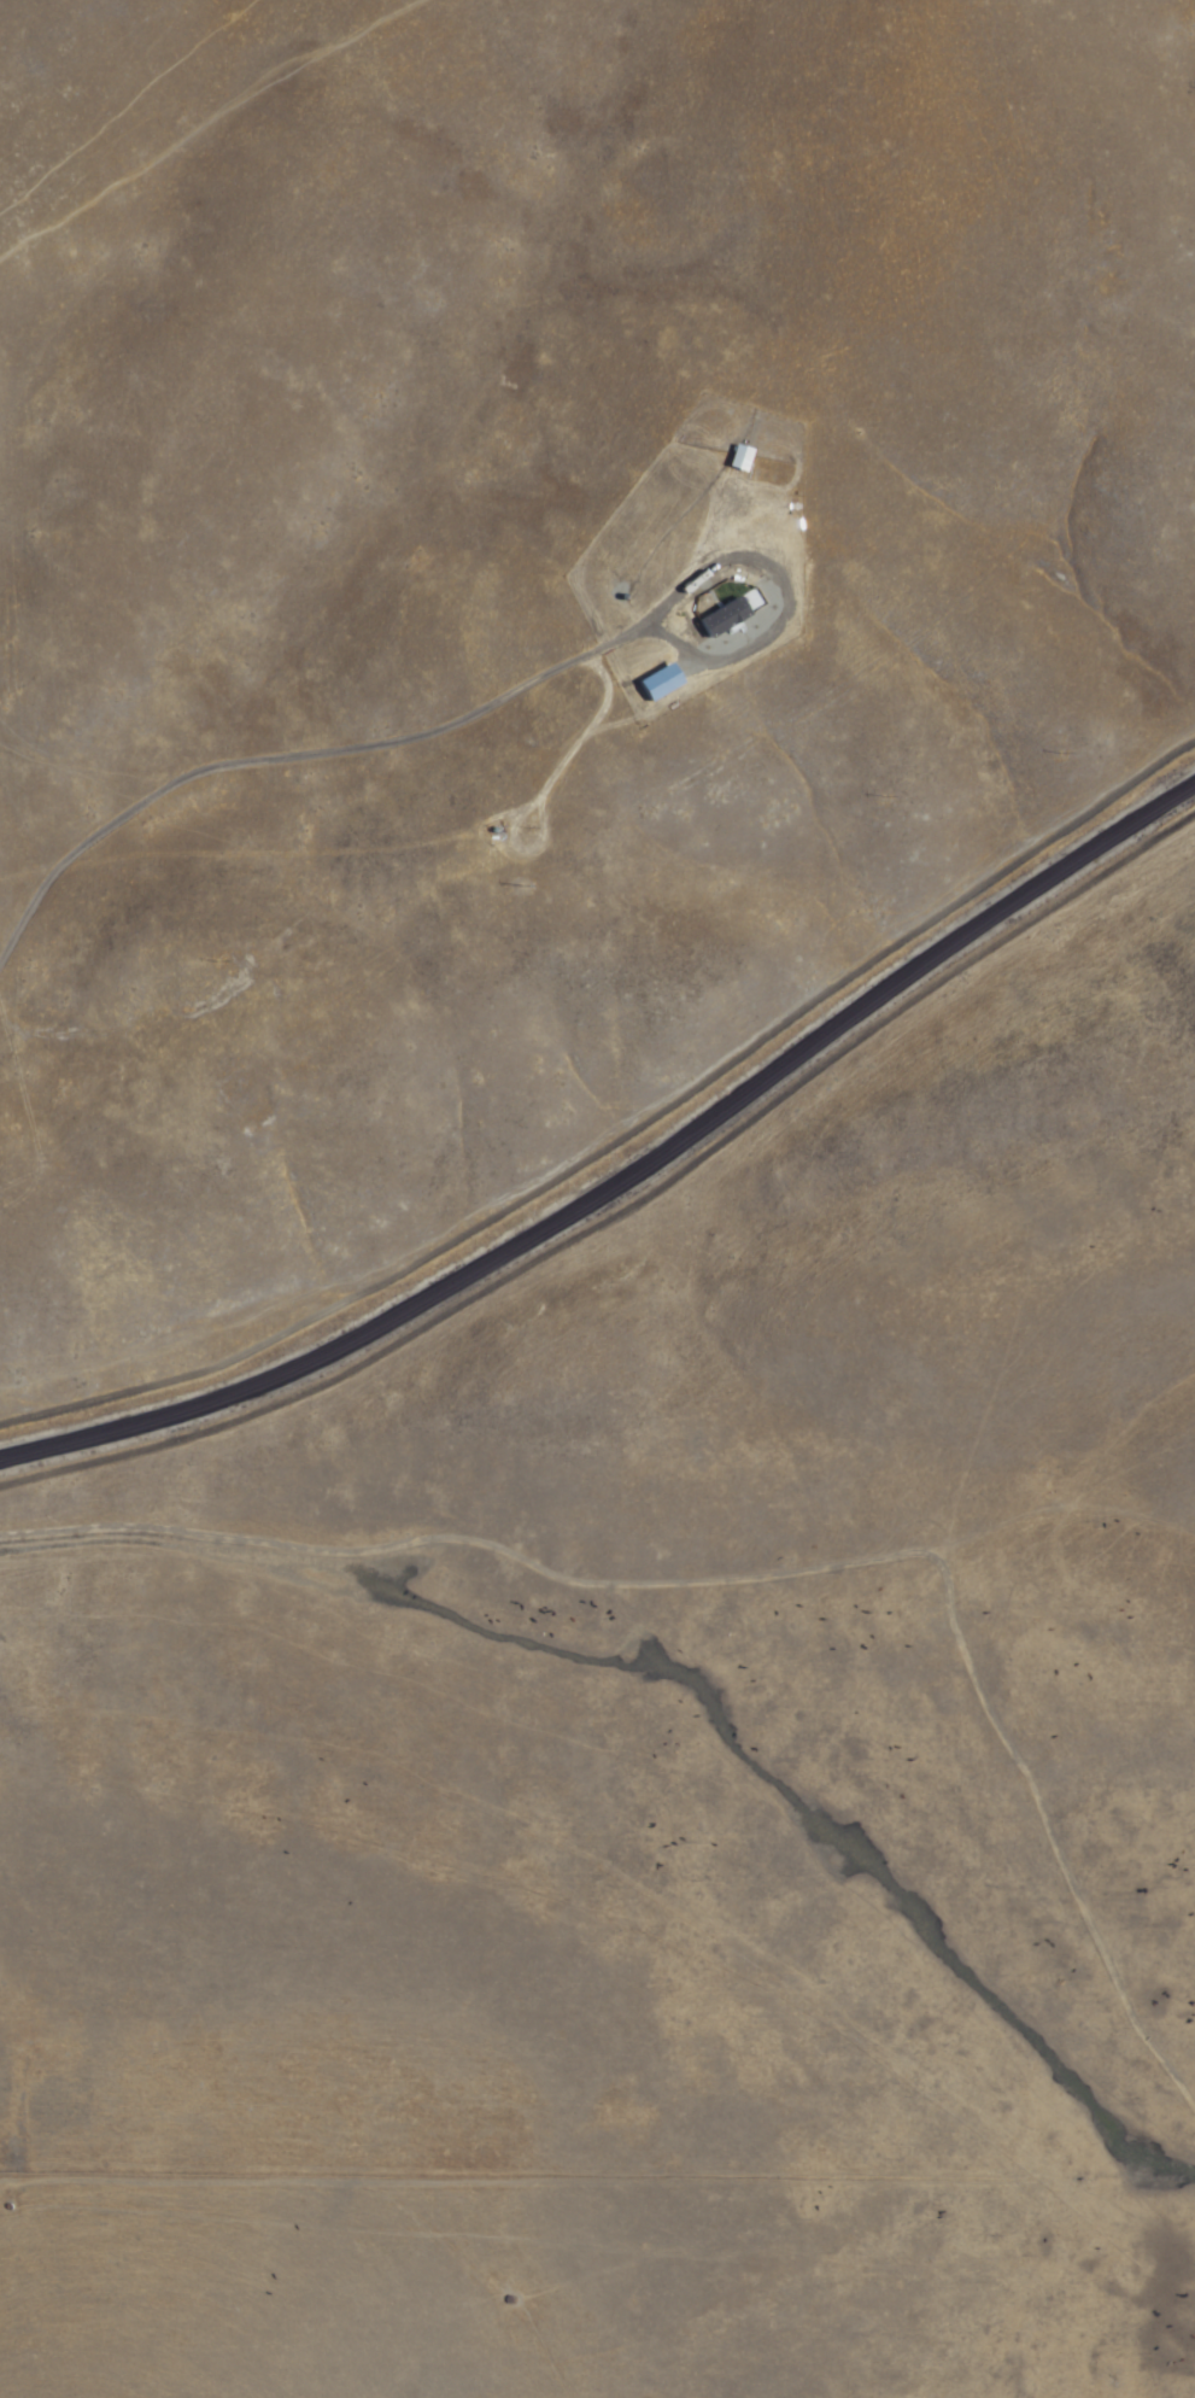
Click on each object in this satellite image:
road: (625, 1177)

